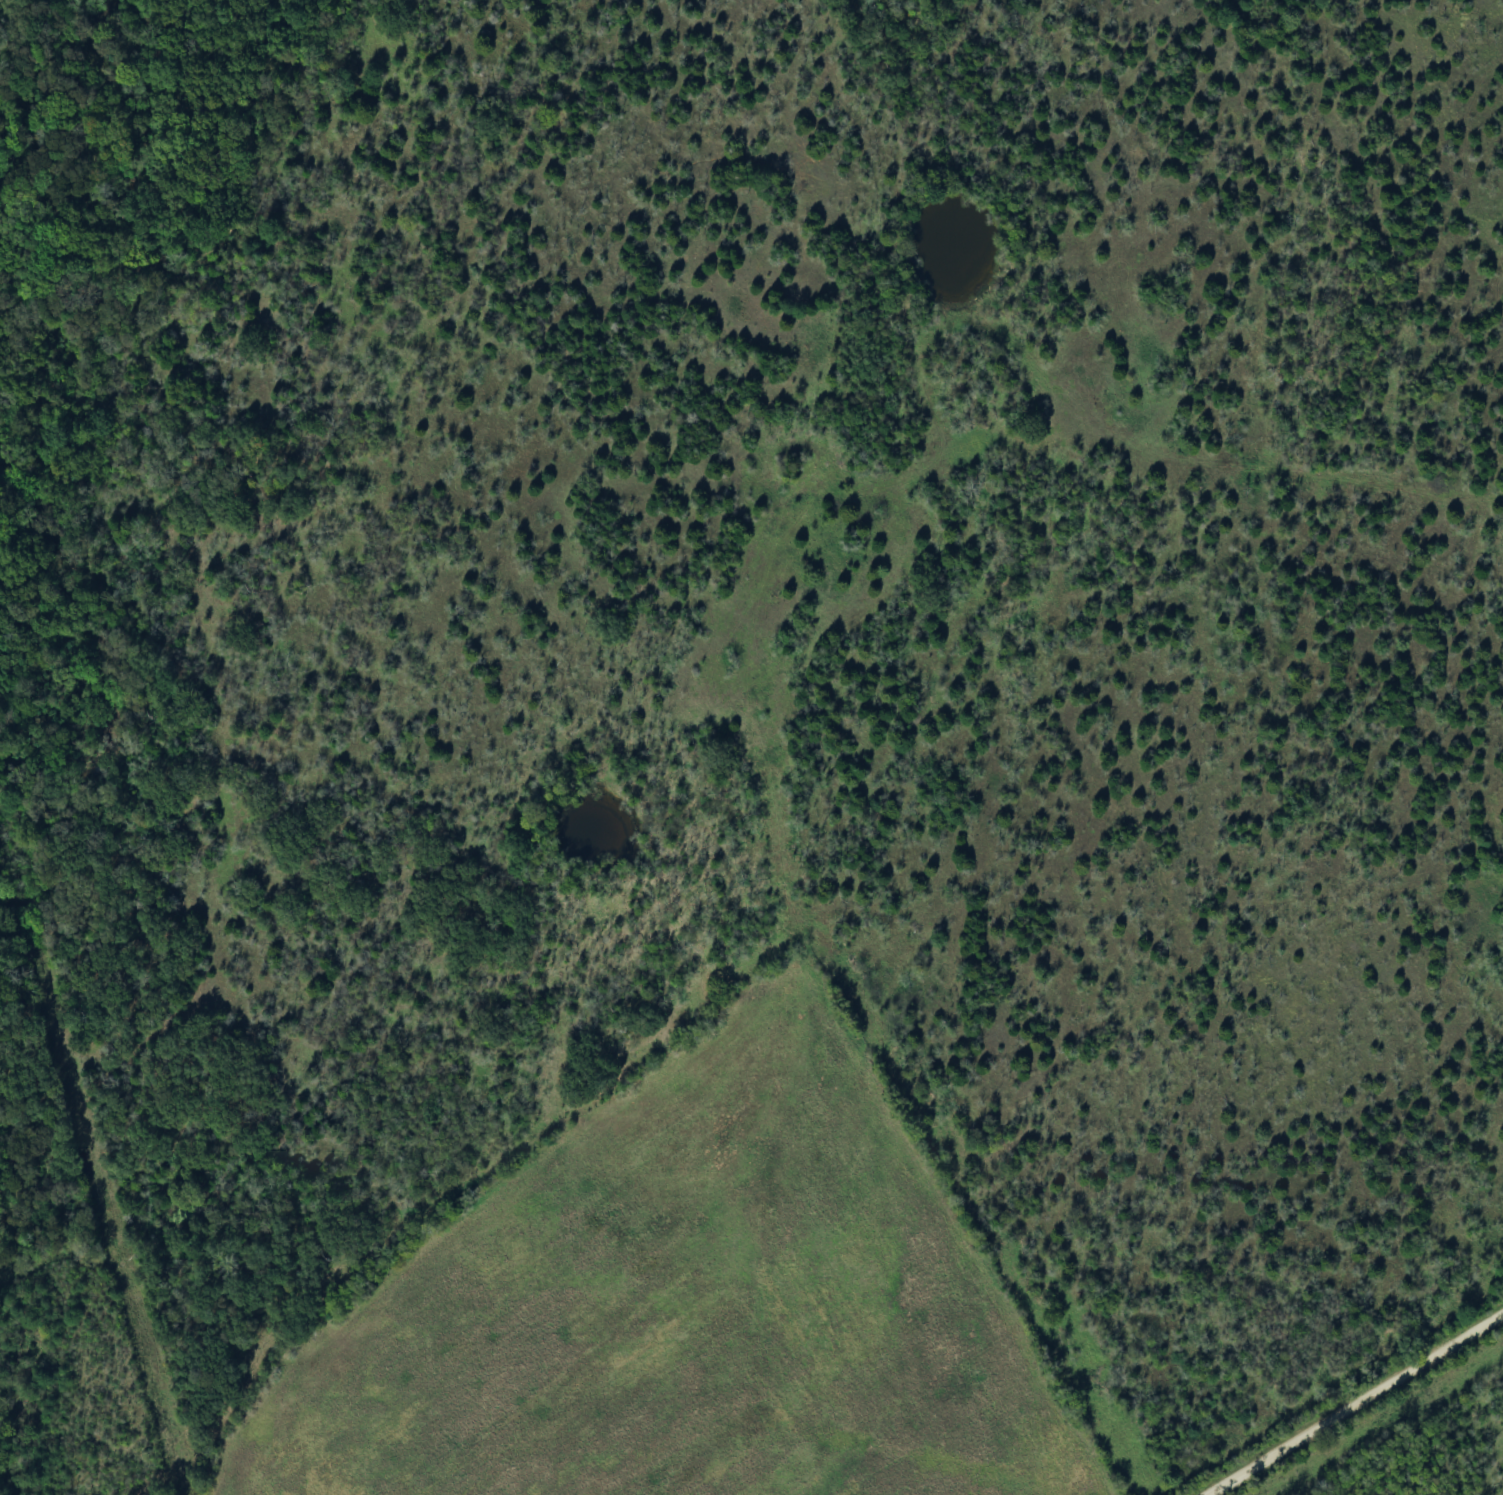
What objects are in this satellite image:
road: (1359, 1406)

